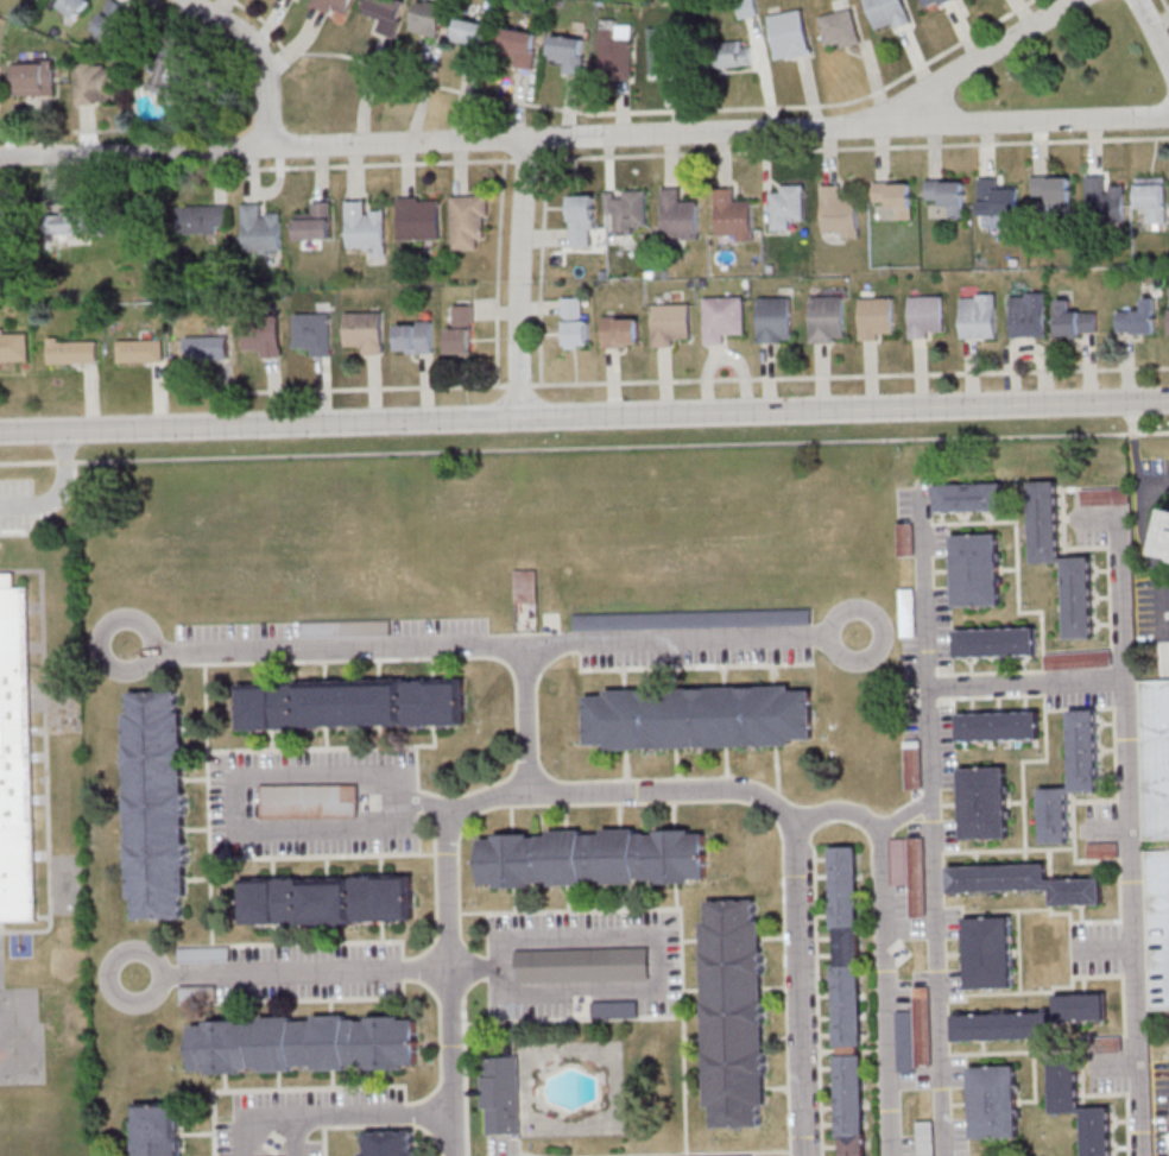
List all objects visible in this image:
building: (934, 4)
building: (333, 5)
building: (76, 6)
building: (747, 8)
building: (386, 13)
building: (887, 14)
building: (429, 18)
building: (114, 23)
building: (840, 29)
road: (1154, 31)
building: (470, 33)
building: (790, 34)
building: (520, 46)
building: (663, 50)
building: (615, 51)
building: (569, 52)
building: (735, 52)
road: (987, 55)
road: (259, 57)
building: (172, 75)
building: (33, 77)
building: (96, 82)
road: (632, 110)
road: (583, 137)
road: (713, 152)
building: (1053, 194)
building: (948, 195)
building: (895, 197)
building: (1152, 197)
building: (997, 198)
building: (1104, 198)
building: (786, 206)
building: (627, 209)
building: (839, 211)
building: (680, 215)
building: (733, 215)
building: (419, 217)
building: (203, 219)
building: (469, 220)
building: (583, 220)
building: (71, 221)
building: (315, 221)
building: (5, 226)
building: (367, 227)
building: (260, 229)
road: (519, 278)
building: (924, 316)
building: (1028, 316)
building: (978, 317)
building: (722, 318)
building: (876, 318)
building: (827, 320)
building: (1137, 320)
building: (773, 321)
building: (576, 322)
building: (1073, 322)
building: (669, 324)
building: (460, 329)
building: (365, 331)
building: (621, 331)
building: (314, 333)
building: (415, 336)
building: (263, 337)
building: (209, 347)
building: (14, 348)
building: (147, 350)
building: (67, 352)
road: (695, 379)
road: (584, 417)
road: (1133, 443)
road: (583, 447)
road: (56, 491)
building: (969, 497)
road: (1143, 526)
building: (1167, 551)
building: (1061, 558)
building: (977, 570)
building: (526, 586)
building: (691, 619)
building: (346, 627)
building: (997, 642)
road: (488, 650)
building: (1168, 655)
road: (1026, 687)
building: (352, 703)
building: (699, 718)
road: (526, 721)
building: (999, 726)
building: (21, 765)
building: (914, 771)
building: (1072, 777)
road: (235, 779)
road: (569, 792)
building: (310, 801)
building: (985, 802)
building: (156, 806)
road: (906, 813)
road: (934, 819)
road: (1130, 833)
building: (1156, 833)
building: (1102, 851)
building: (593, 858)
building: (899, 868)
building: (1024, 882)
building: (328, 899)
road: (656, 936)
road: (883, 946)
building: (990, 952)
building: (197, 954)
building: (582, 966)
road: (291, 973)
road: (801, 977)
building: (848, 1000)
building: (614, 1010)
building: (735, 1013)
building: (1031, 1019)
road: (449, 1030)
building: (915, 1032)
building: (303, 1043)
building: (1064, 1082)
building: (500, 1094)
building: (994, 1101)
road: (345, 1116)
building: (159, 1129)
road: (302, 1136)
road: (239, 1137)
building: (925, 1138)
building: (390, 1143)

